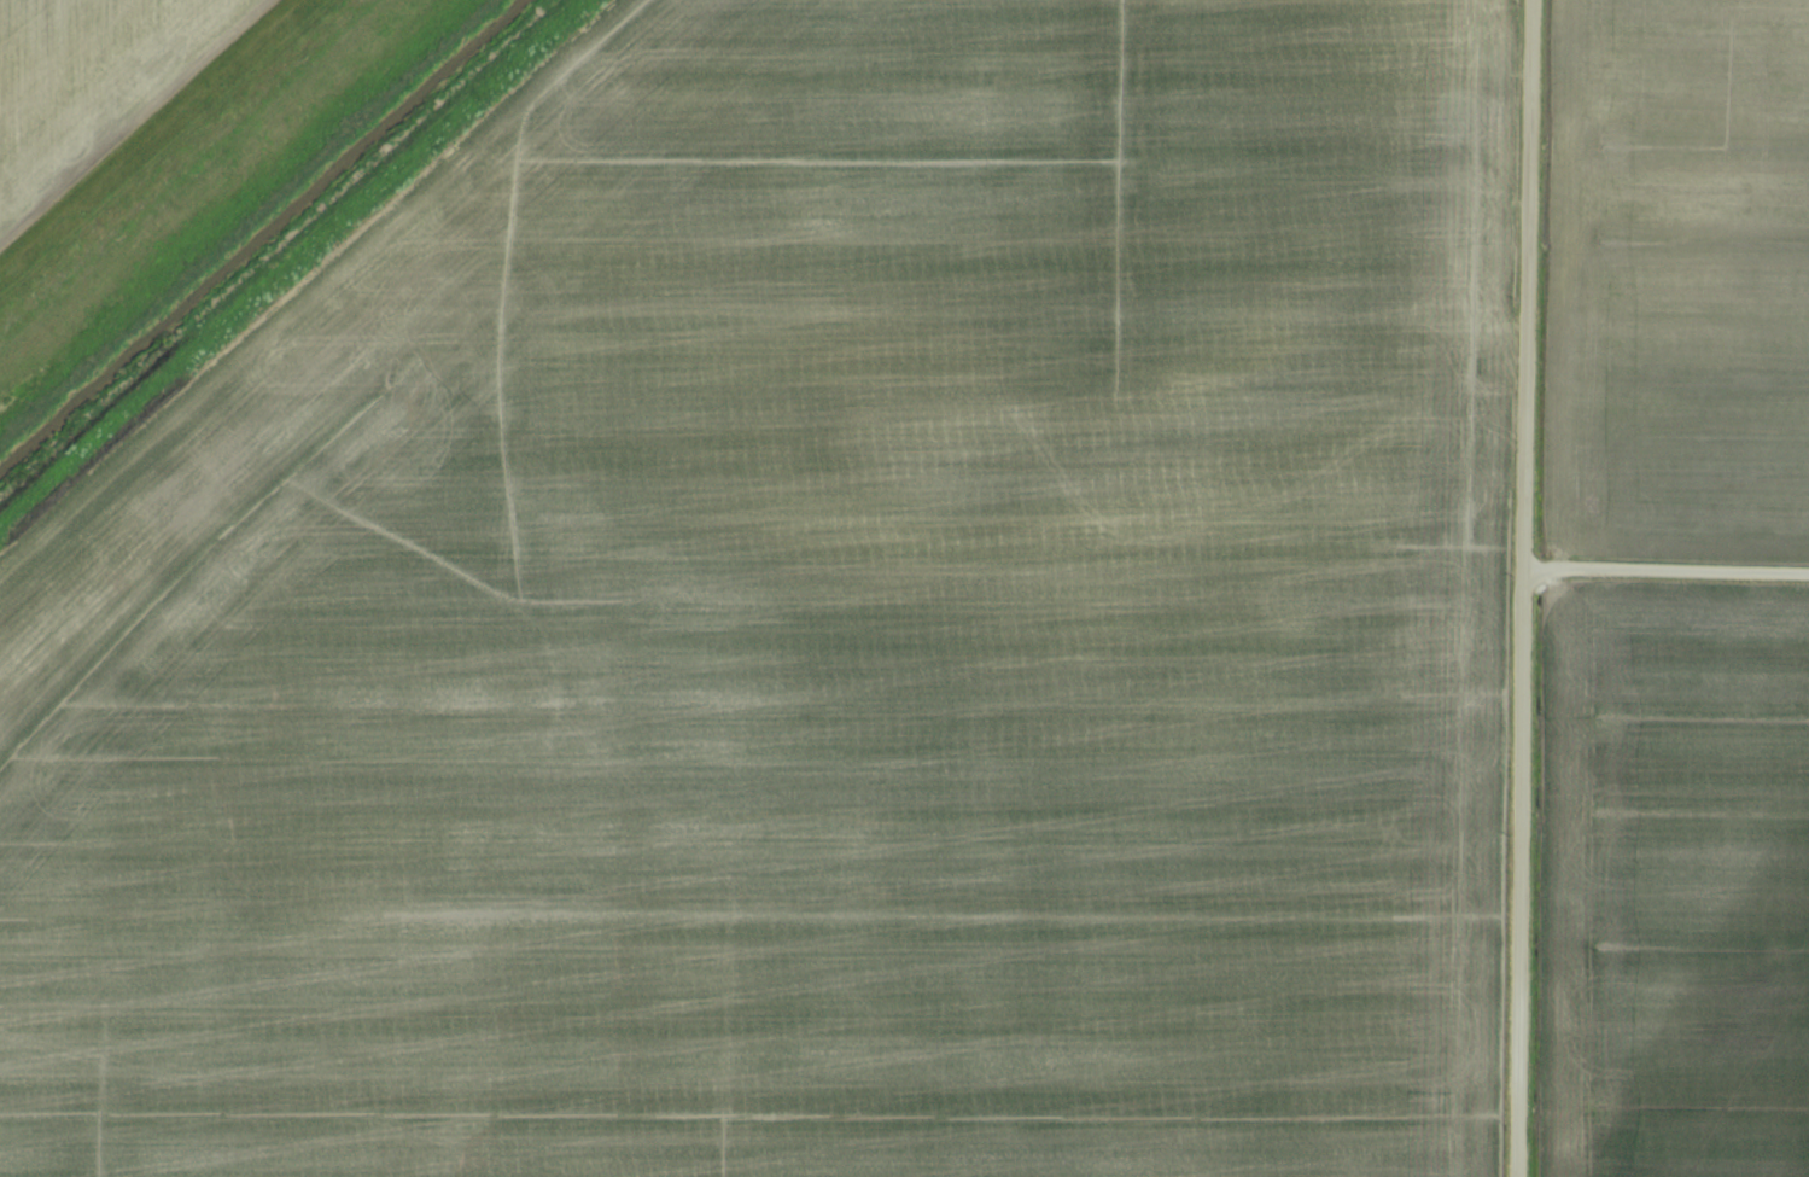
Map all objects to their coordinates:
road: (1661, 573)
road: (1511, 588)

